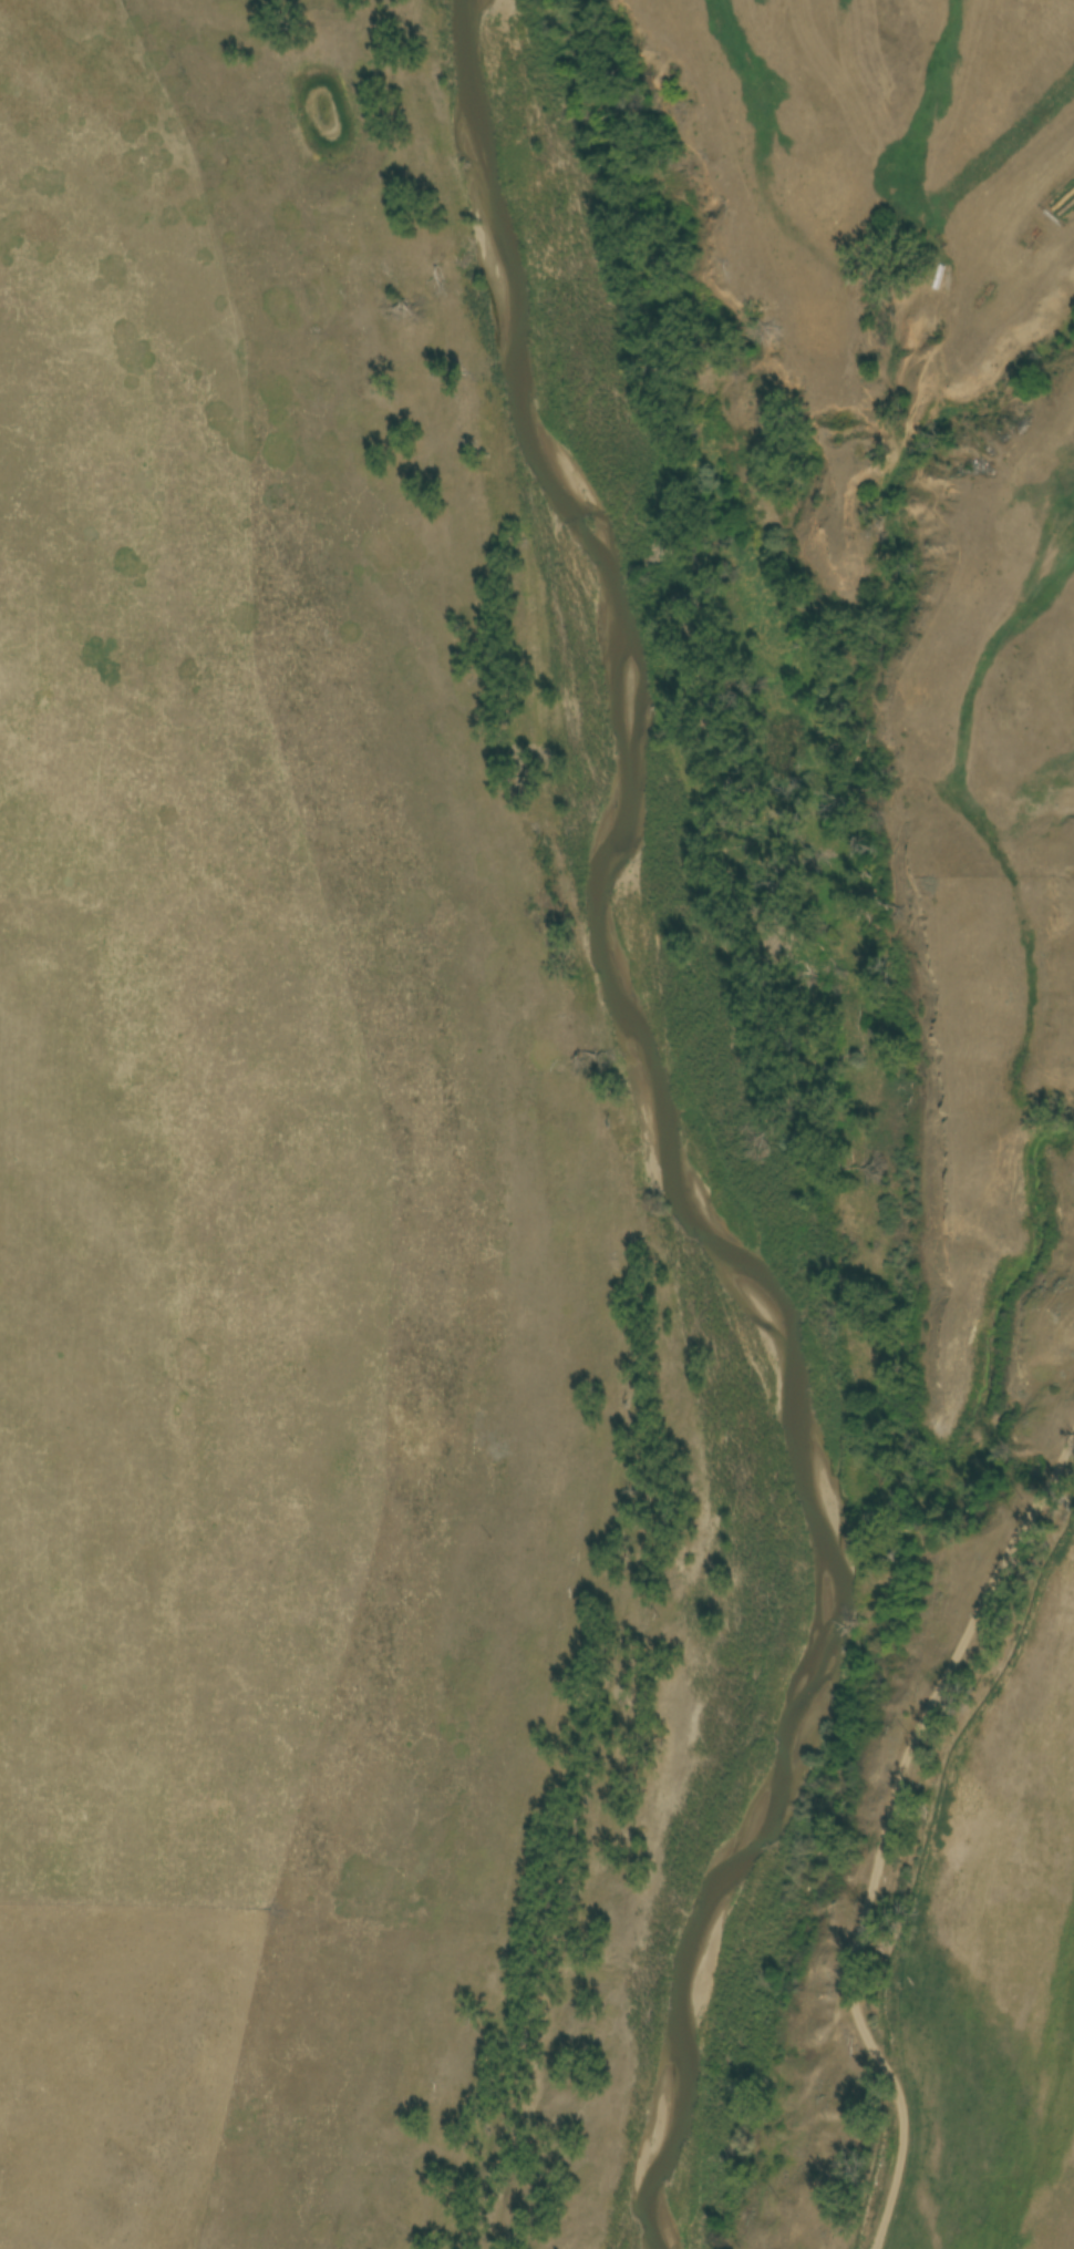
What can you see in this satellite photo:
river: (730, 1118)
road: (885, 1832)

